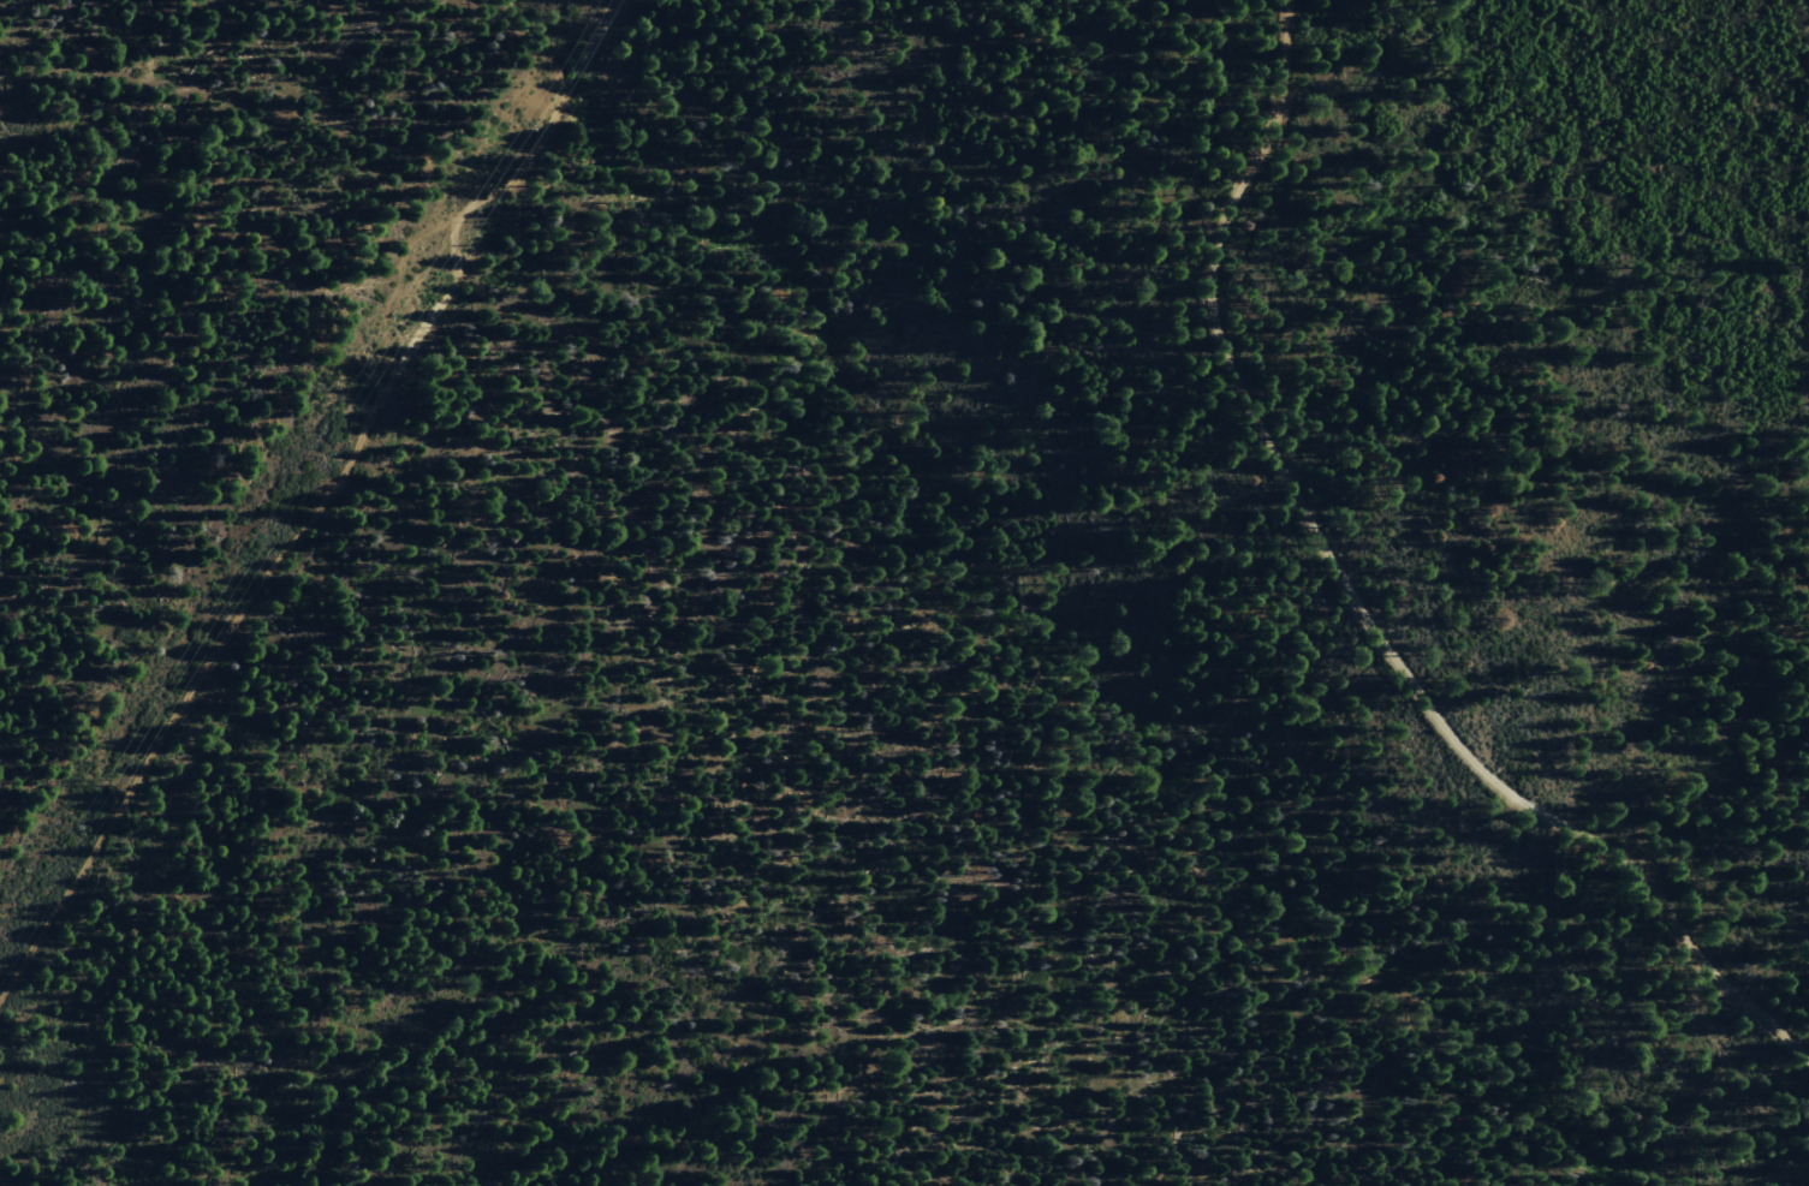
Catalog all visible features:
road: (252, 107)
power tower: (358, 374)
road: (328, 502)
road: (1356, 602)
power tower: (106, 782)

